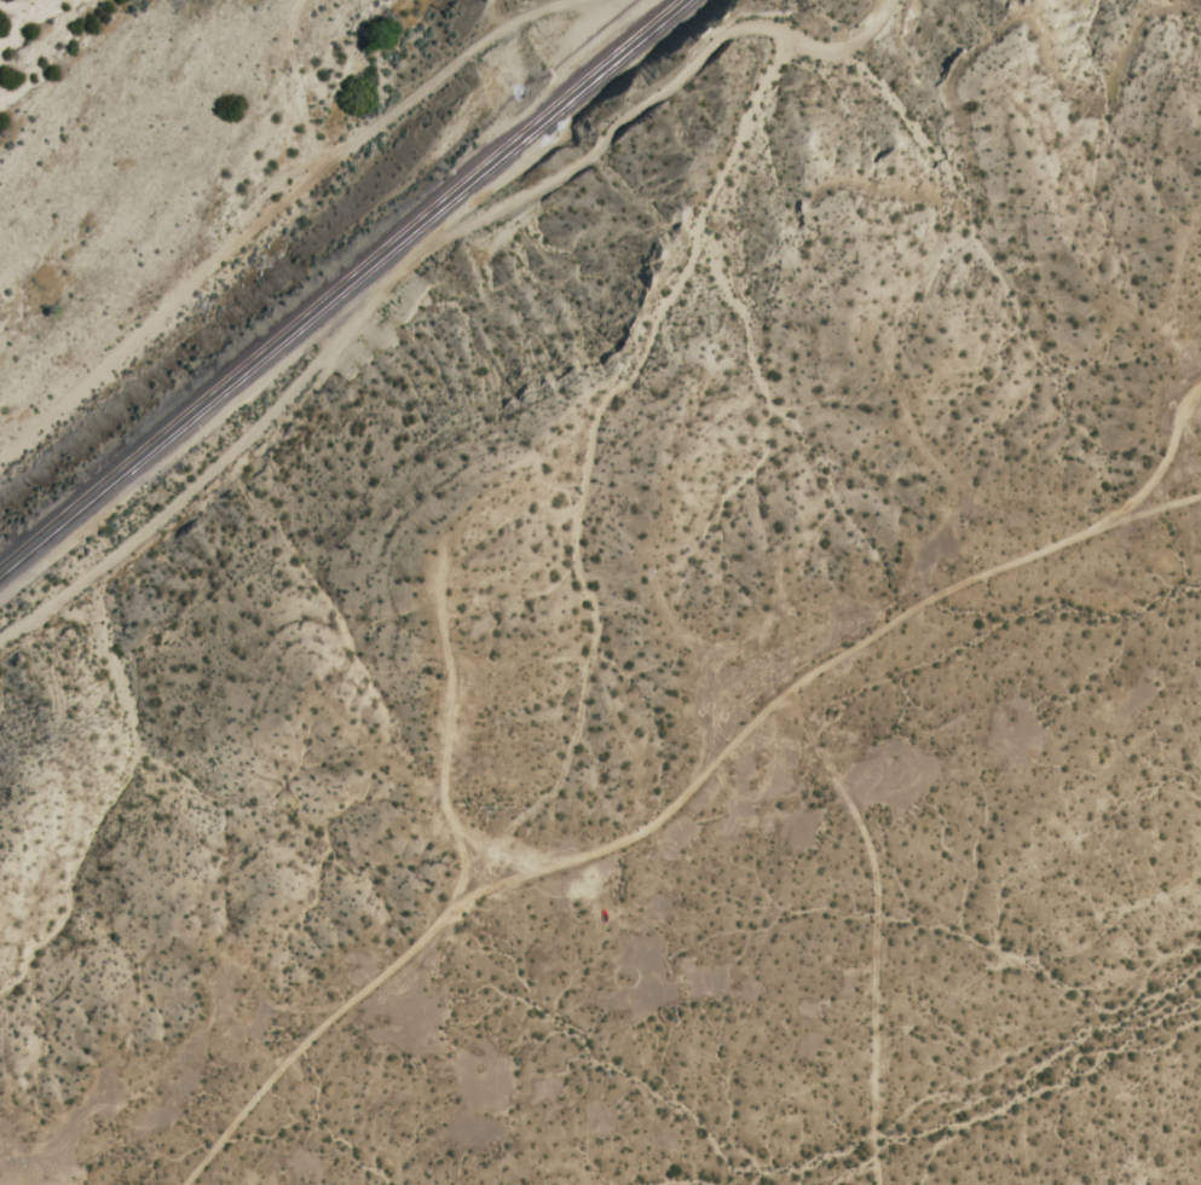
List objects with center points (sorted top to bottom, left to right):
road: (277, 216)
railway: (337, 282)
railway: (346, 288)

